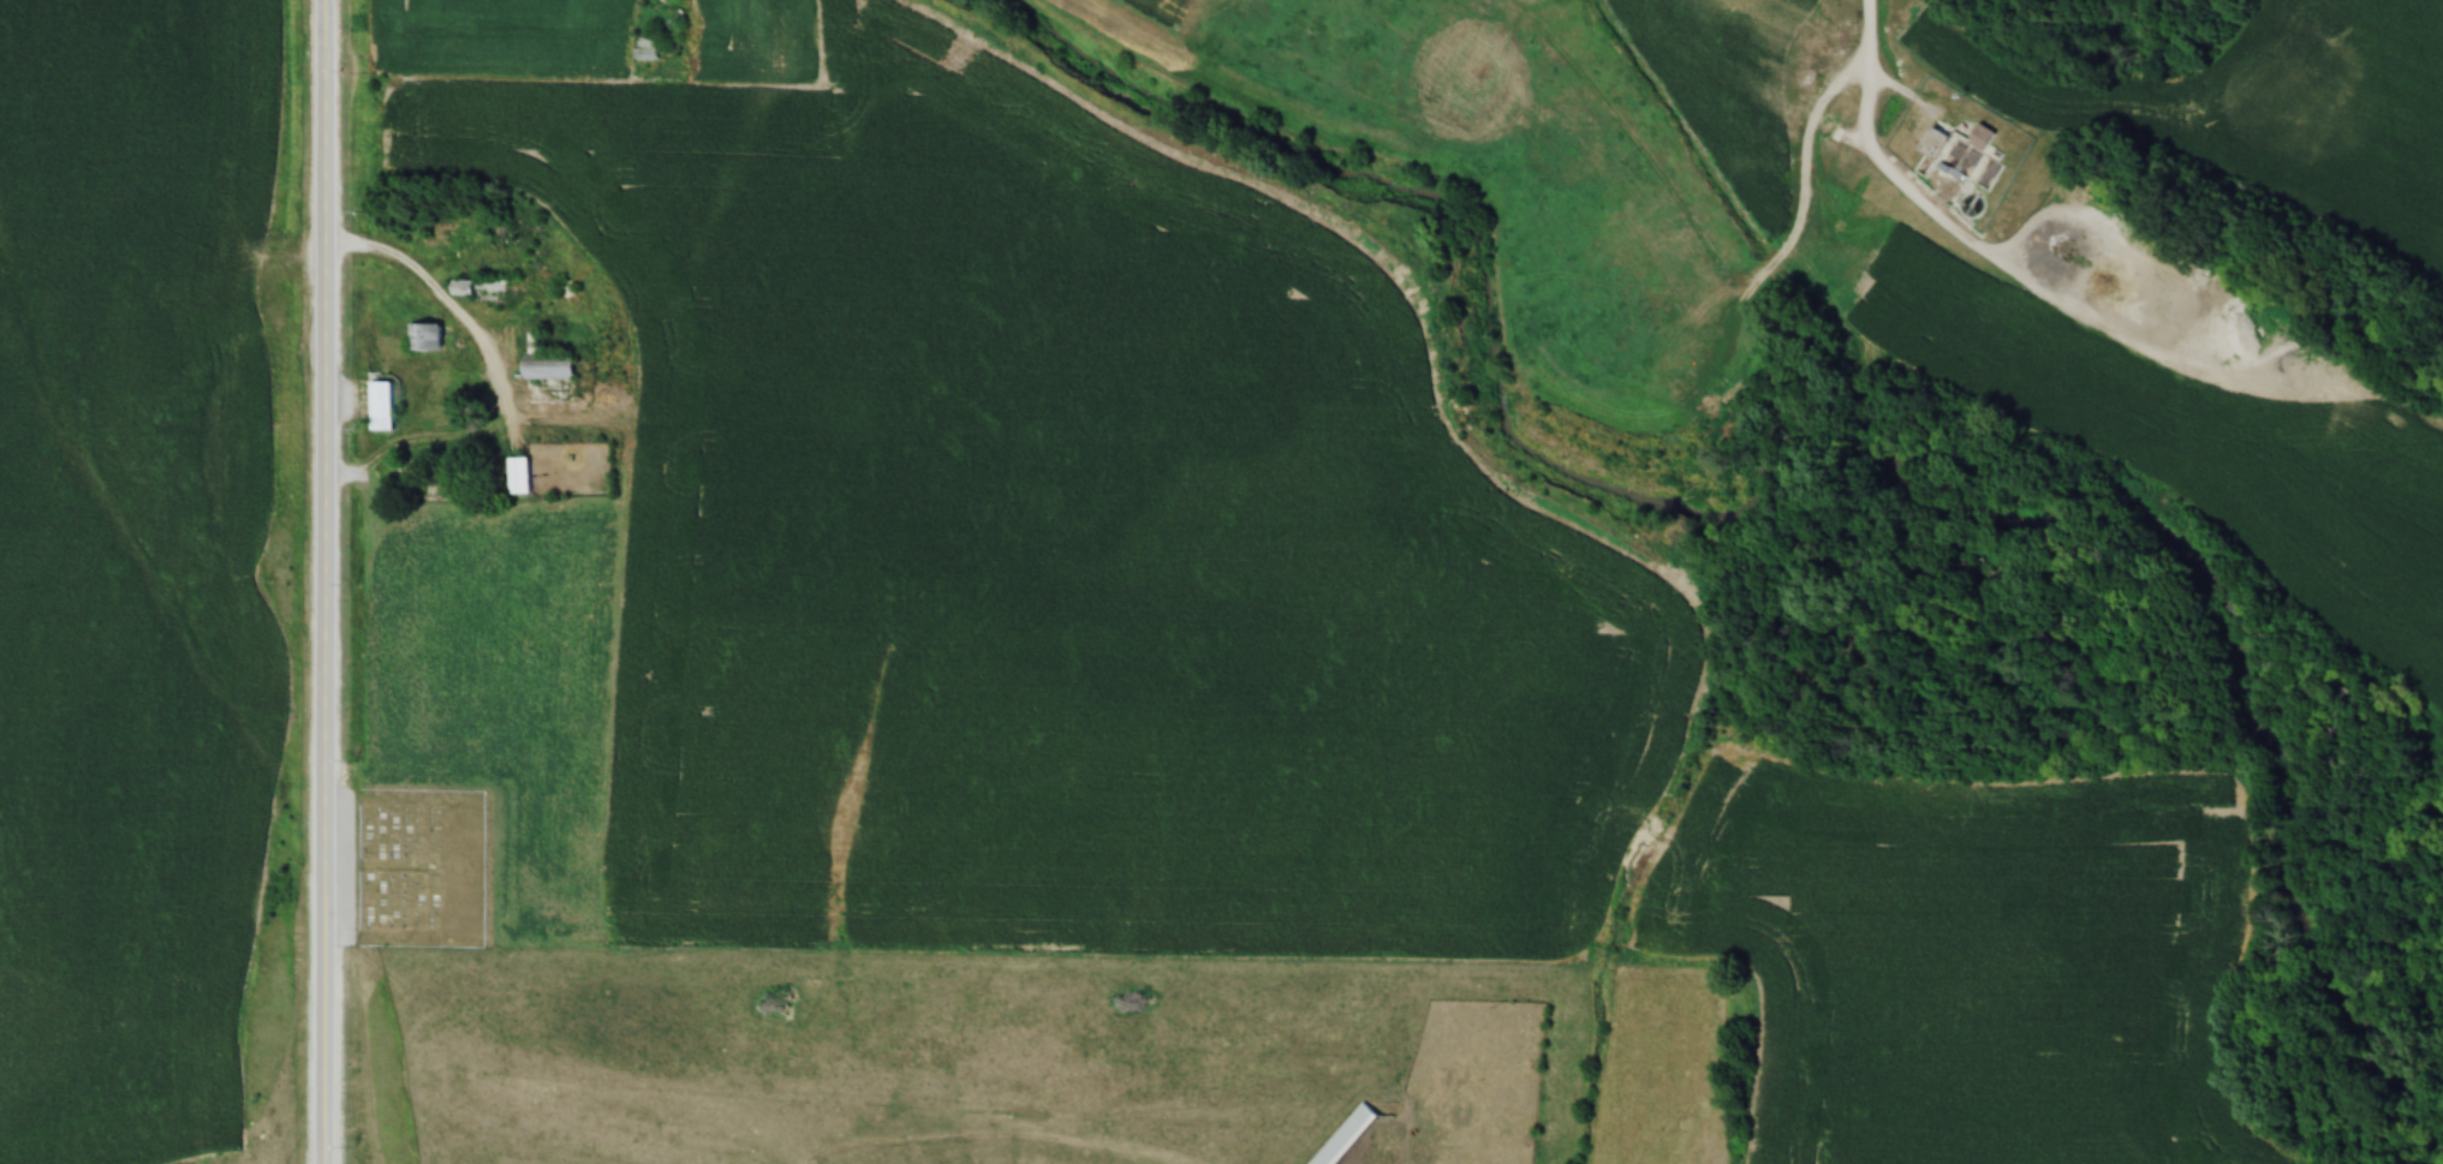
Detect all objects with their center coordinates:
building: (666, 1)
building: (643, 49)
road: (322, 123)
building: (1978, 138)
building: (1929, 144)
road: (1893, 171)
building: (484, 288)
building: (559, 293)
road: (2164, 311)
building: (419, 339)
building: (554, 365)
road: (501, 381)
building: (388, 399)
building: (377, 406)
river: (1806, 417)
building: (524, 468)
building: (513, 477)
crop: (129, 569)
road: (322, 704)
park: (418, 868)
building: (1342, 1135)
river: (2442, 1158)

